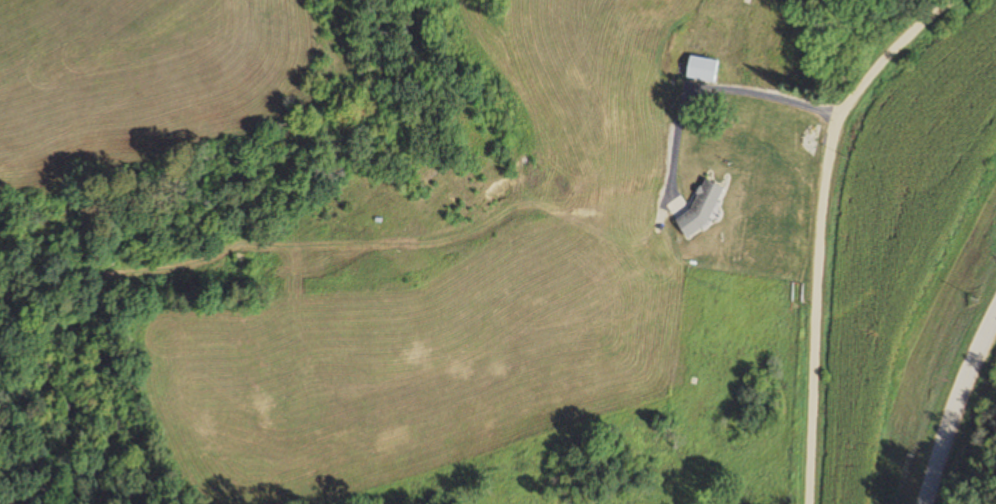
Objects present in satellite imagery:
building: (701, 68)
building: (733, 73)
building: (768, 119)
building: (697, 196)
road: (820, 223)
road: (961, 410)

